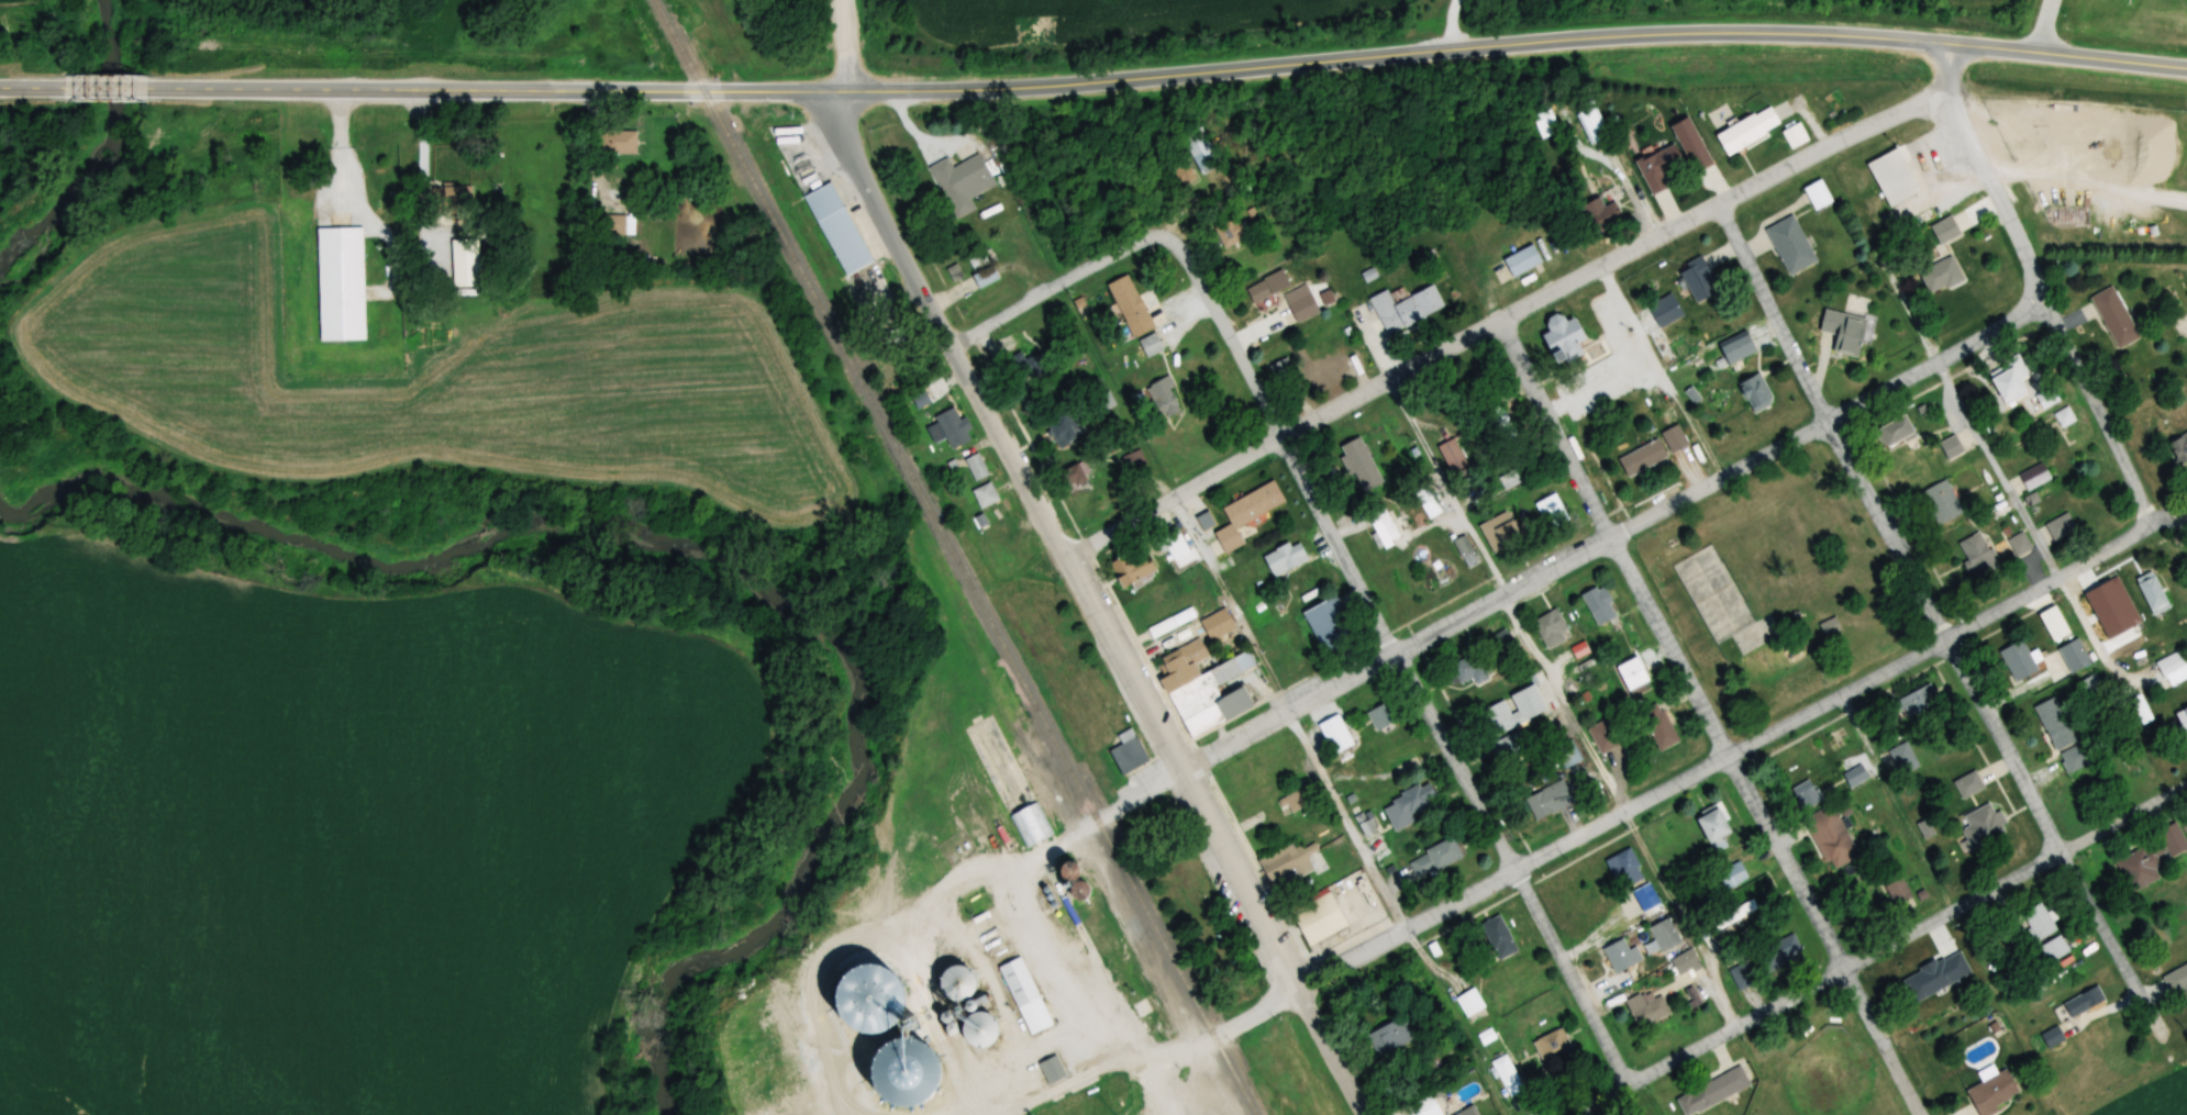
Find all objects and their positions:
road: (1451, 25)
road: (2042, 27)
road: (1749, 35)
railway: (677, 45)
road: (843, 45)
road: (1462, 49)
road: (1990, 51)
road: (2110, 63)
road: (1943, 64)
road: (1303, 65)
road: (1097, 83)
road: (1940, 88)
road: (31, 91)
road: (645, 91)
road: (762, 91)
road: (109, 92)
road: (371, 92)
road: (833, 92)
road: (902, 92)
building: (1542, 120)
building: (1590, 125)
building: (1745, 131)
building: (1794, 136)
building: (617, 143)
road: (343, 152)
building: (1199, 152)
river: (104, 154)
building: (1657, 167)
road: (1785, 169)
road: (1977, 170)
road: (423, 172)
building: (1184, 174)
building: (1890, 178)
building: (963, 183)
building: (1817, 196)
building: (451, 203)
building: (1601, 213)
building: (607, 225)
building: (840, 230)
building: (1943, 230)
building: (1231, 232)
road: (1141, 243)
building: (1789, 245)
building: (1520, 260)
building: (466, 264)
building: (1939, 275)
building: (983, 277)
building: (1696, 278)
building: (342, 285)
building: (1265, 287)
building: (1299, 304)
building: (1128, 306)
building: (1403, 309)
building: (1664, 311)
road: (1773, 313)
road: (1010, 315)
building: (2112, 316)
building: (1846, 325)
road: (943, 327)
building: (1558, 338)
building: (1147, 347)
building: (1734, 349)
railway: (843, 355)
road: (1648, 361)
road: (1936, 364)
building: (1031, 365)
building: (1320, 372)
road: (1405, 373)
building: (2009, 382)
road: (2086, 384)
building: (1754, 392)
building: (1161, 398)
building: (2045, 398)
road: (1259, 399)
building: (919, 400)
building: (2063, 417)
road: (1690, 419)
building: (1501, 424)
building: (950, 428)
building: (1063, 428)
road: (1559, 431)
building: (1894, 433)
building: (1673, 438)
building: (1950, 447)
building: (1451, 455)
building: (1640, 458)
building: (1132, 460)
building: (1359, 465)
building: (975, 467)
building: (1517, 475)
building: (1073, 476)
building: (2033, 477)
road: (1723, 481)
road: (2005, 482)
building: (1422, 491)
building: (984, 495)
building: (1939, 503)
building: (1550, 512)
building: (1245, 513)
building: (1203, 521)
building: (1381, 525)
building: (2060, 527)
road: (1124, 528)
road: (1888, 533)
building: (1174, 544)
building: (2018, 545)
building: (1463, 551)
river: (706, 553)
building: (1975, 556)
building: (1284, 558)
road: (1210, 564)
building: (1133, 568)
road: (2052, 581)
park: (1781, 588)
building: (2151, 594)
road: (1506, 596)
road: (1507, 596)
building: (1597, 605)
road: (1374, 613)
building: (2097, 616)
building: (1170, 623)
building: (1326, 623)
building: (1215, 624)
building: (1828, 627)
building: (1550, 628)
road: (1675, 645)
building: (2073, 656)
building: (1281, 660)
building: (2017, 661)
building: (2171, 666)
road: (1265, 670)
building: (1466, 670)
building: (1630, 674)
road: (1341, 683)
building: (2090, 683)
building: (1201, 687)
road: (1840, 696)
building: (1916, 700)
building: (1527, 705)
building: (1383, 715)
building: (2182, 722)
building: (2053, 724)
building: (1656, 726)
building: (1333, 734)
building: (1603, 736)
road: (1235, 739)
building: (1509, 747)
building: (1125, 752)
building: (1566, 754)
building: (2077, 756)
building: (1403, 758)
building: (1902, 758)
road: (1188, 771)
building: (1854, 776)
railway: (1055, 778)
road: (1679, 781)
building: (1967, 784)
building: (1806, 794)
building: (1547, 801)
building: (1292, 803)
building: (1409, 803)
road: (1898, 803)
road: (1346, 822)
building: (1028, 825)
building: (1979, 826)
building: (1710, 827)
building: (1830, 837)
road: (2060, 846)
building: (1434, 858)
building: (2151, 858)
road: (1787, 860)
railway: (1122, 865)
road: (1513, 867)
building: (1624, 868)
road: (1518, 872)
building: (1731, 877)
road: (2014, 879)
building: (1309, 887)
building: (1070, 891)
building: (1897, 891)
road: (1026, 892)
building: (1644, 896)
building: (1733, 915)
road: (1683, 916)
building: (2038, 921)
building: (1663, 934)
building: (1497, 937)
building: (2053, 948)
building: (1778, 952)
building: (1617, 956)
road: (1353, 959)
building: (1684, 962)
building: (1739, 972)
building: (2176, 979)
building: (950, 982)
building: (1912, 989)
building: (1023, 996)
road: (1790, 997)
road: (999, 999)
building: (1469, 1002)
building: (2083, 1002)
building: (1646, 1008)
building: (904, 1010)
road: (1251, 1014)
road: (1066, 1030)
building: (976, 1032)
building: (1389, 1036)
building: (2051, 1037)
road: (1880, 1042)
building: (1553, 1048)
building: (924, 1050)
road: (1332, 1051)
park: (1821, 1057)
building: (1050, 1069)
road: (1155, 1069)
road: (1652, 1069)
building: (1505, 1071)
building: (1711, 1091)
building: (1991, 1093)
building: (1466, 1112)

